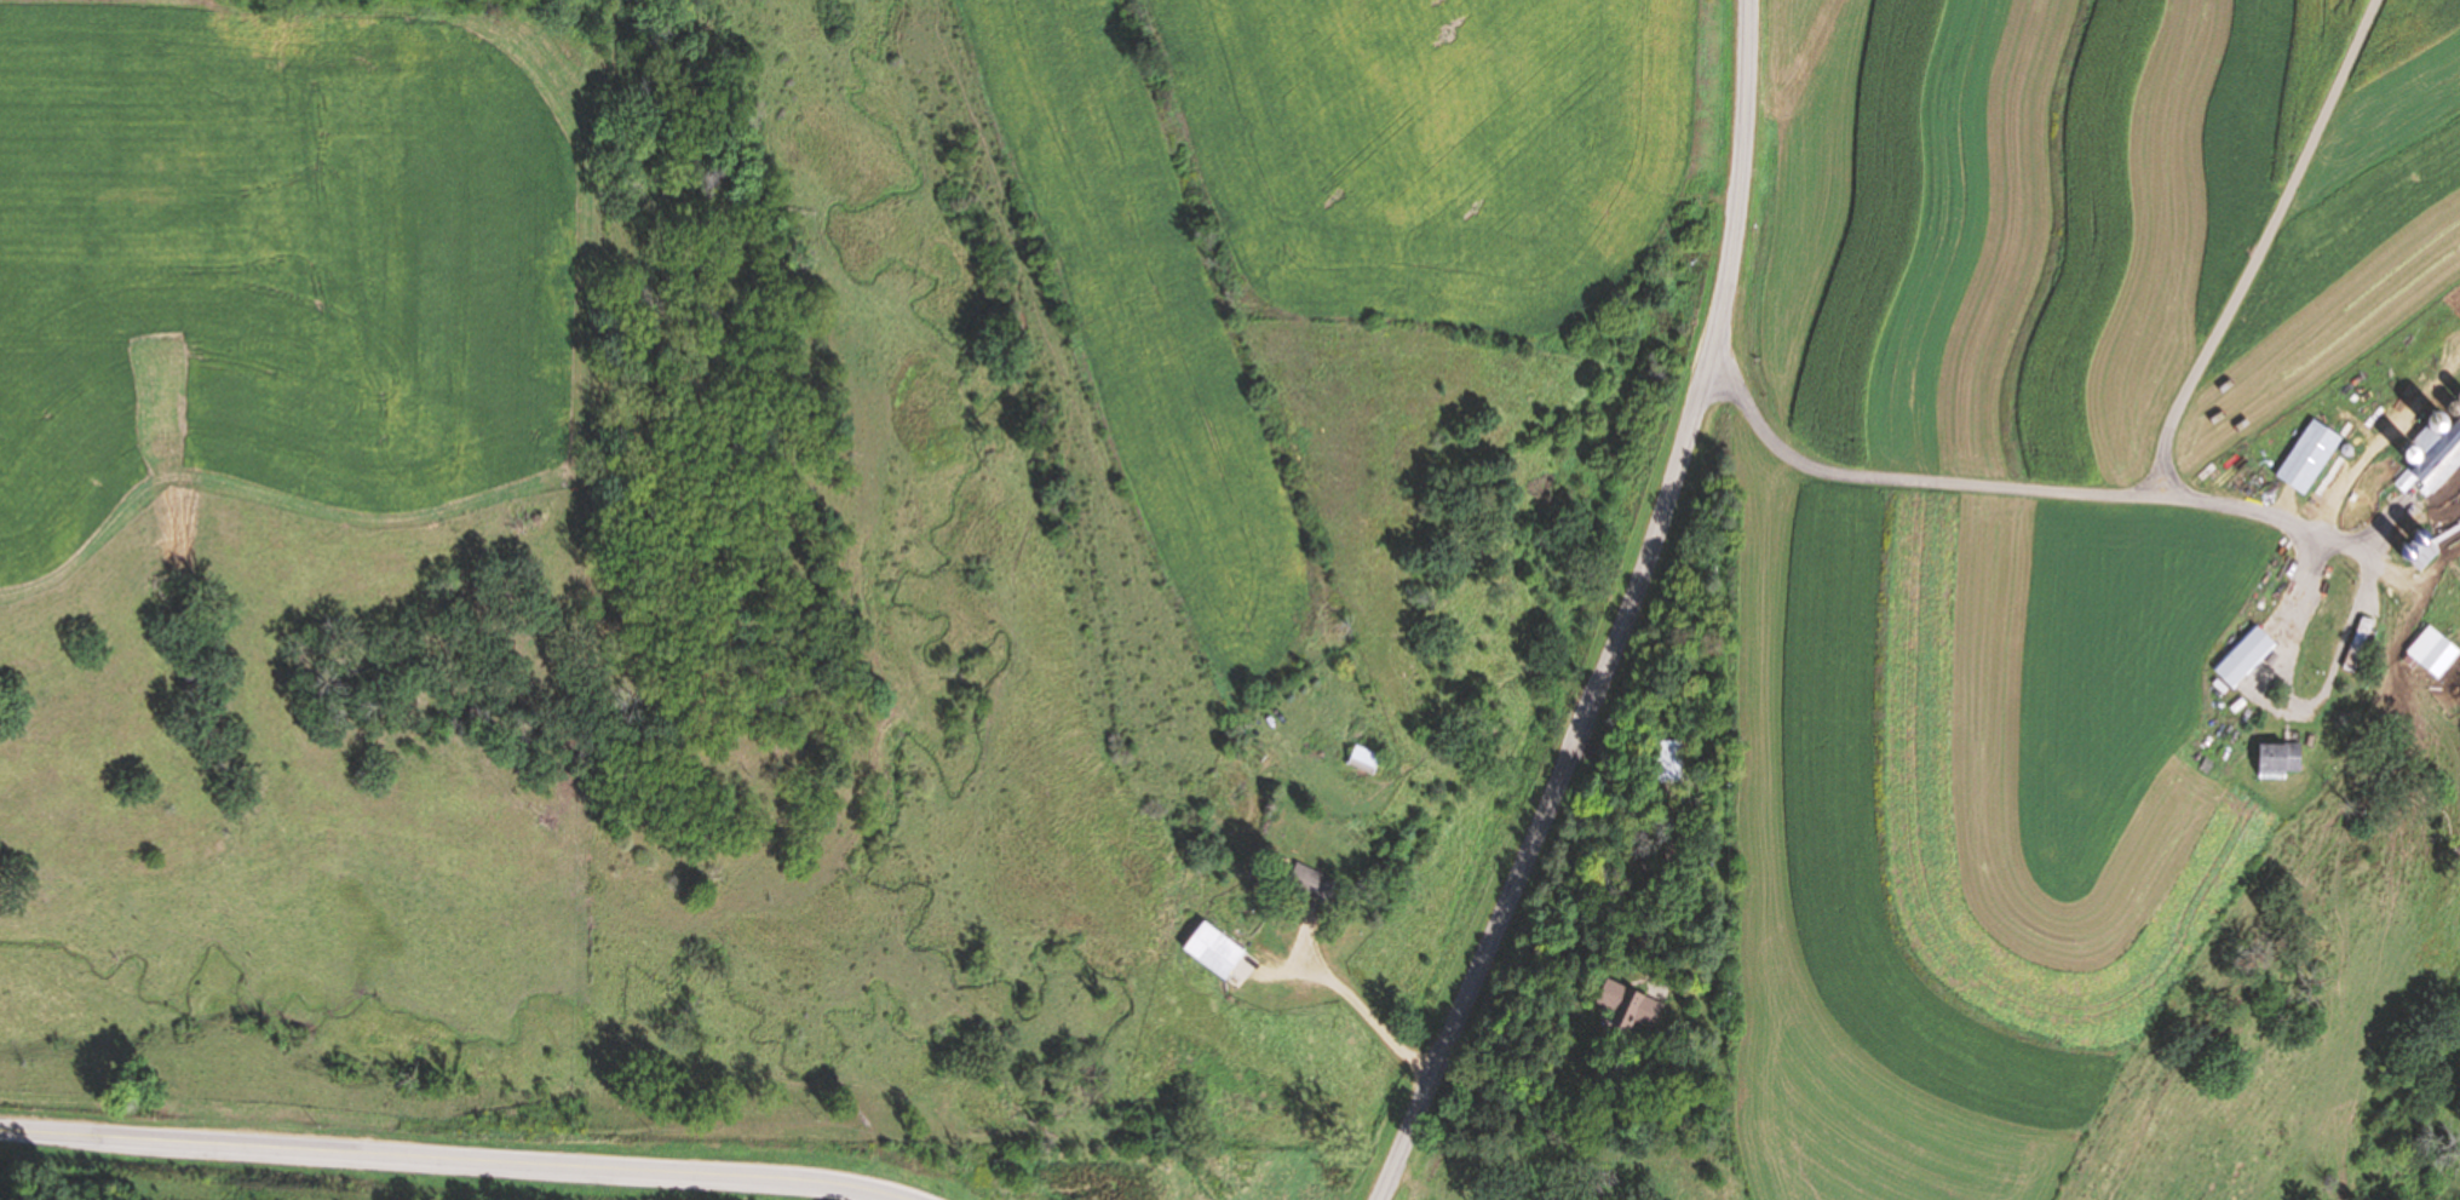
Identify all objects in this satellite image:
road: (2261, 246)
building: (2432, 449)
building: (2306, 457)
road: (2054, 500)
building: (2420, 552)
road: (1628, 618)
building: (2357, 643)
building: (2430, 650)
building: (2243, 656)
building: (2276, 758)
building: (1362, 759)
building: (1669, 762)
road: (1673, 838)
road: (1643, 852)
building: (1311, 882)
building: (1211, 949)
building: (1627, 1001)
road: (1373, 1020)
road: (406, 1155)
road: (862, 1188)

